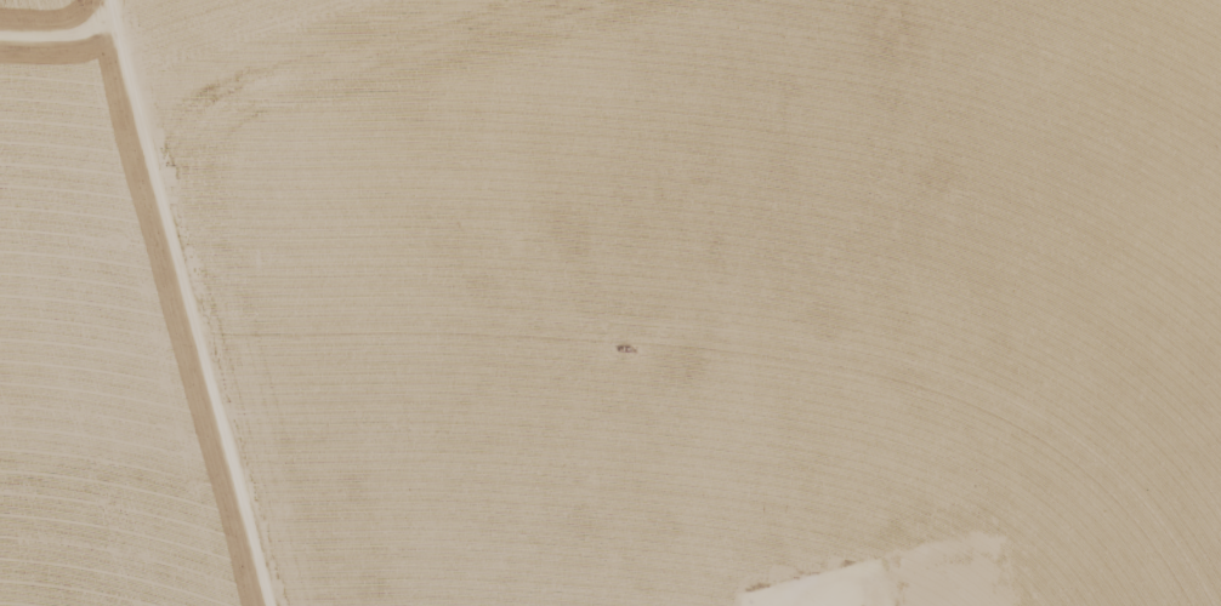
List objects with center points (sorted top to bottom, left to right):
road: (708, 303)

